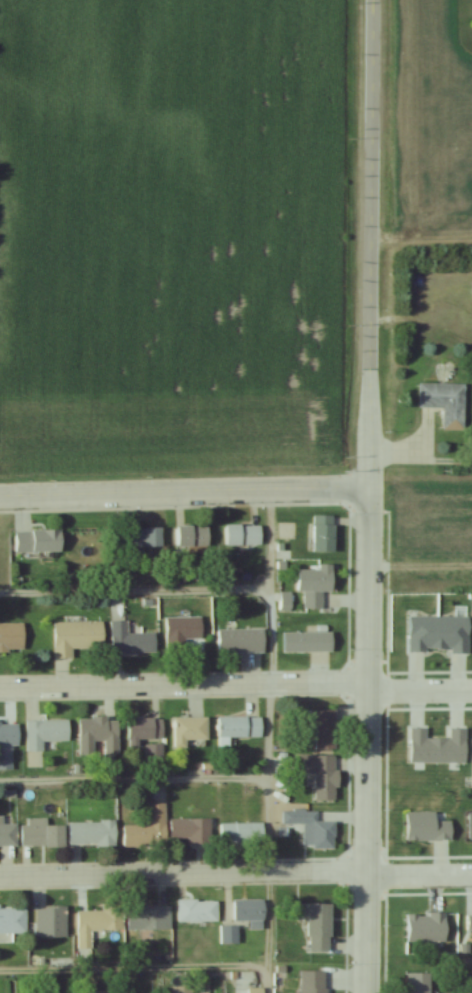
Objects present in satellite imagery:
road: (371, 185)
crop: (171, 230)
building: (448, 403)
road: (369, 431)
road: (184, 494)
building: (325, 534)
building: (245, 535)
building: (195, 537)
building: (143, 539)
building: (39, 541)
road: (420, 569)
building: (316, 585)
road: (135, 590)
building: (182, 633)
building: (12, 637)
building: (77, 638)
building: (132, 641)
building: (242, 641)
building: (309, 643)
road: (270, 681)
road: (184, 686)
road: (420, 687)
building: (241, 728)
building: (326, 729)
building: (146, 731)
building: (192, 732)
building: (46, 734)
building: (100, 736)
road: (367, 741)
building: (8, 744)
building: (156, 751)
building: (320, 775)
road: (133, 779)
building: (313, 828)
building: (149, 829)
building: (191, 831)
building: (93, 833)
building: (242, 833)
building: (42, 834)
building: (8, 835)
road: (183, 872)
road: (419, 873)
building: (250, 909)
building: (199, 910)
building: (150, 916)
building: (11, 920)
building: (52, 921)
building: (100, 921)
building: (320, 925)
road: (268, 928)
building: (229, 934)
road: (142, 967)
building: (316, 981)
building: (421, 982)
building: (184, 989)

